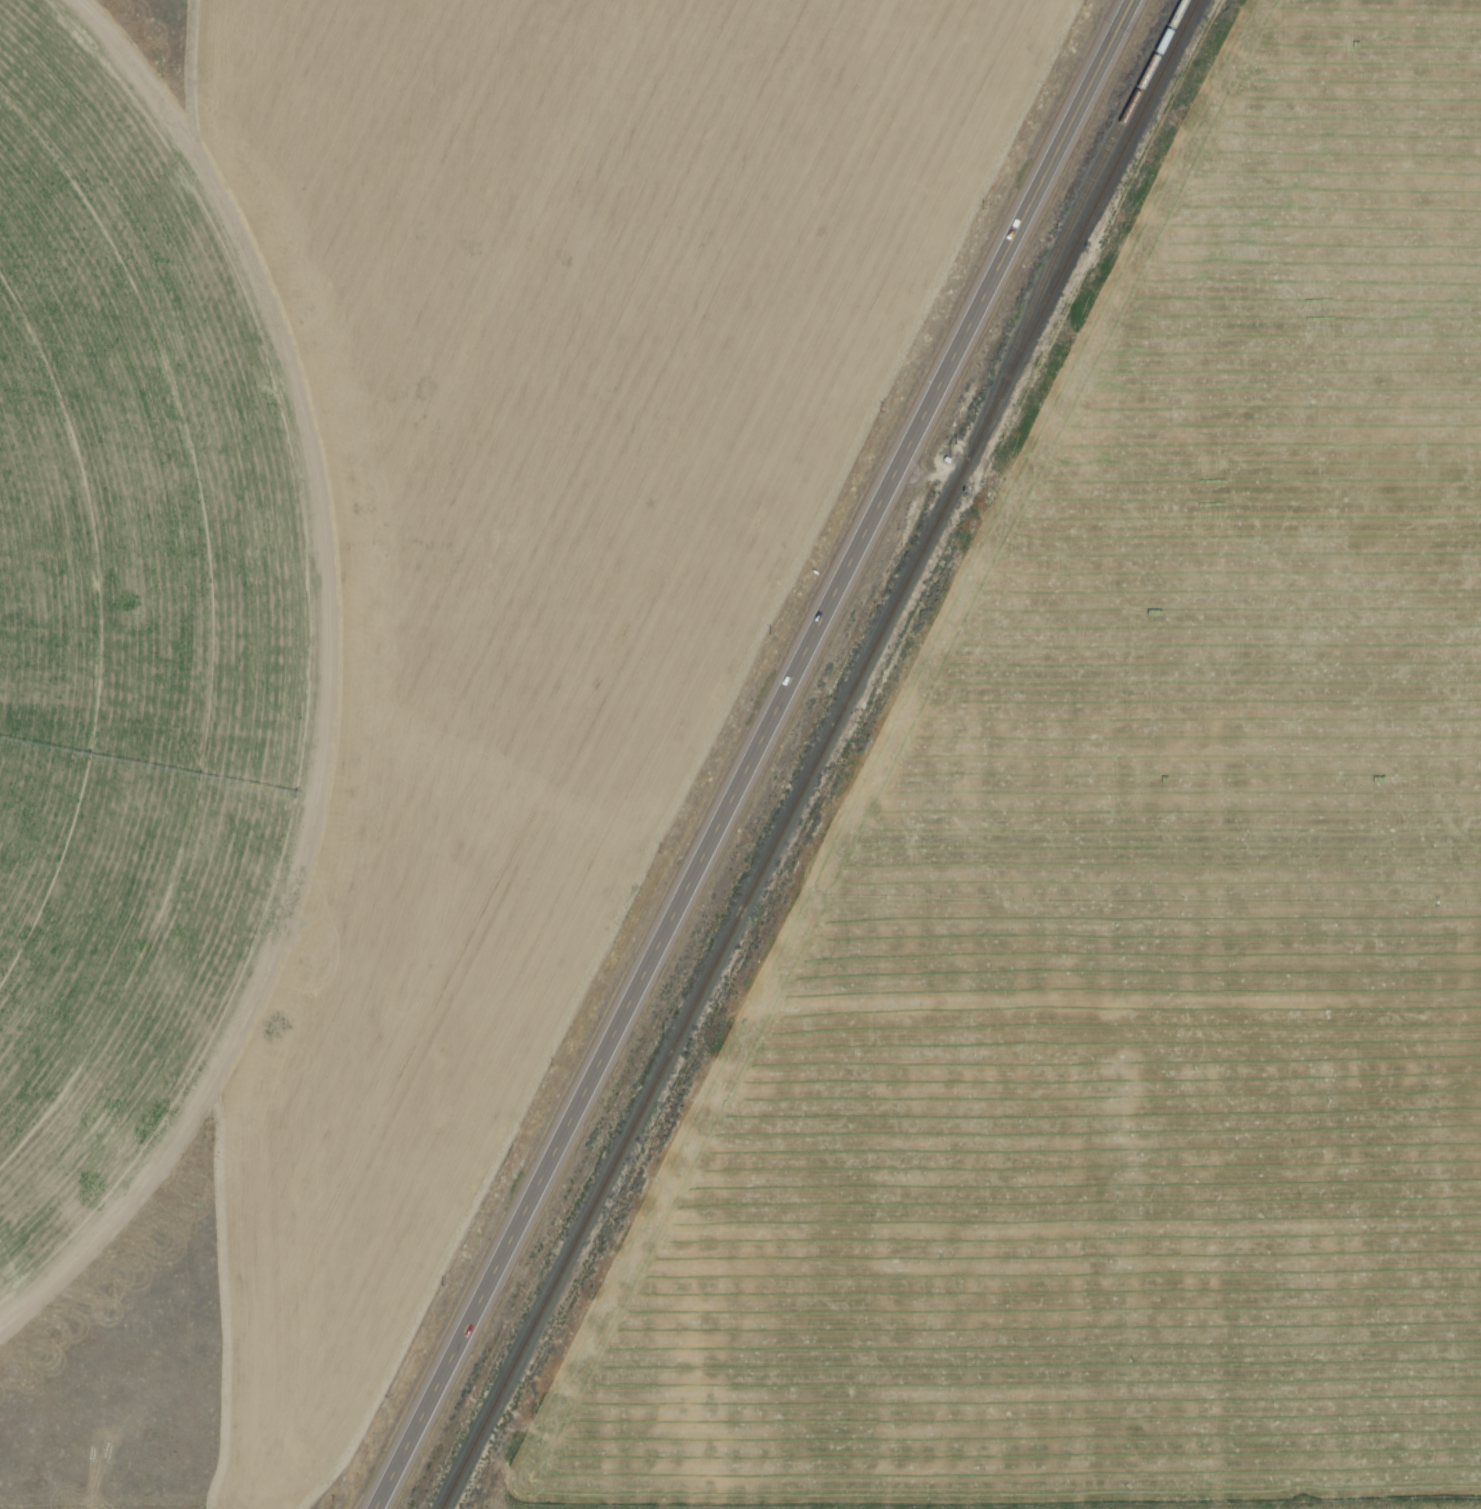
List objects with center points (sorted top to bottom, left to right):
railway: (1064, 225)
railway: (1087, 229)
road: (751, 754)
railway: (704, 983)

